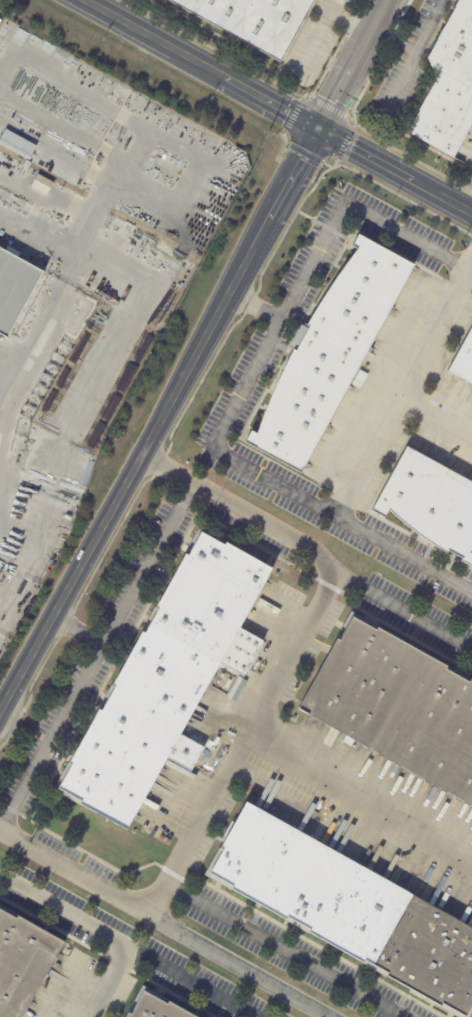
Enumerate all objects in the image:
building: (254, 21)
road: (124, 24)
road: (370, 33)
road: (394, 39)
road: (412, 58)
building: (451, 87)
road: (244, 89)
road: (335, 98)
traffic signals: (319, 130)
building: (129, 142)
building: (16, 147)
road: (395, 171)
road: (294, 174)
building: (43, 183)
road: (464, 190)
building: (14, 289)
road: (254, 305)
building: (330, 353)
road: (402, 359)
building: (464, 360)
road: (419, 363)
road: (370, 379)
road: (240, 391)
road: (369, 454)
road: (134, 462)
building: (429, 504)
road: (404, 613)
road: (77, 630)
road: (97, 657)
building: (164, 684)
building: (397, 707)
road: (256, 720)
road: (363, 787)
building: (348, 908)
road: (97, 930)
road: (286, 950)
building: (22, 963)
road: (240, 966)
road: (188, 981)
building: (155, 1007)

